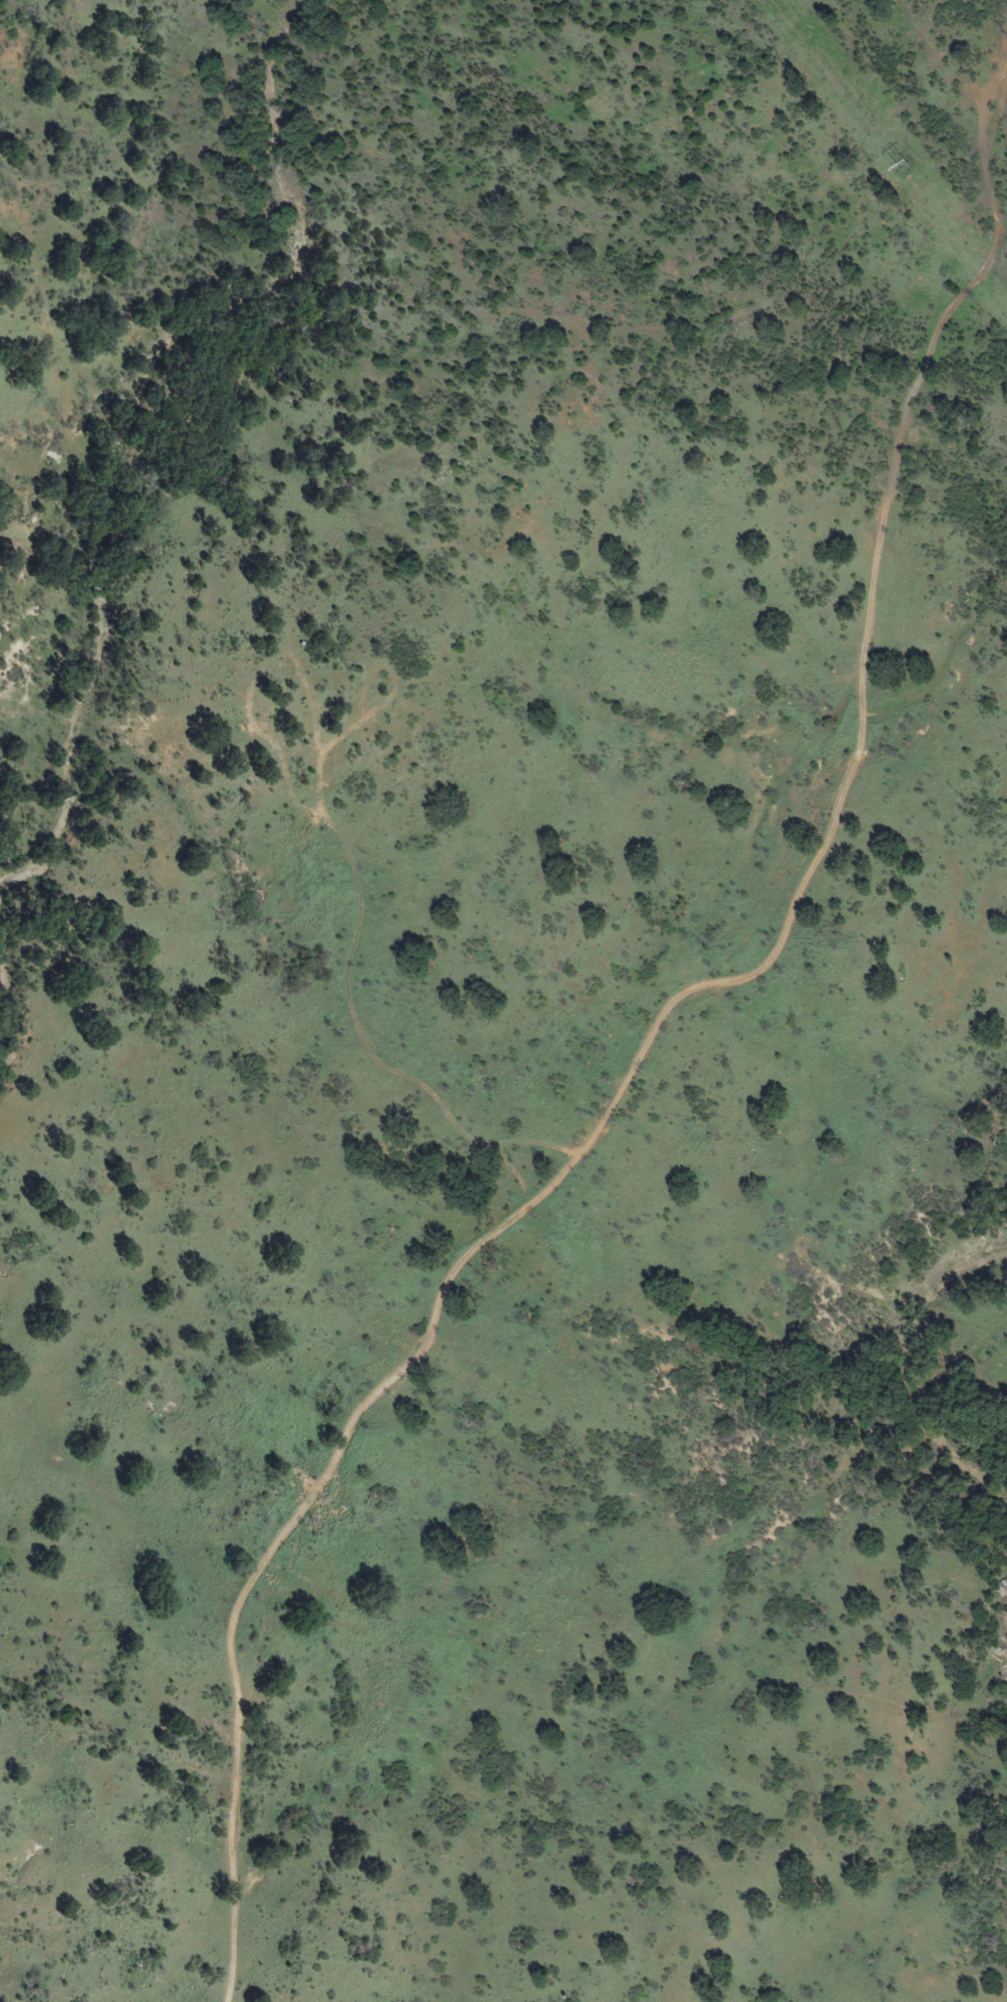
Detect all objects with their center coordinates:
power tower: (904, 164)
road: (643, 1051)

